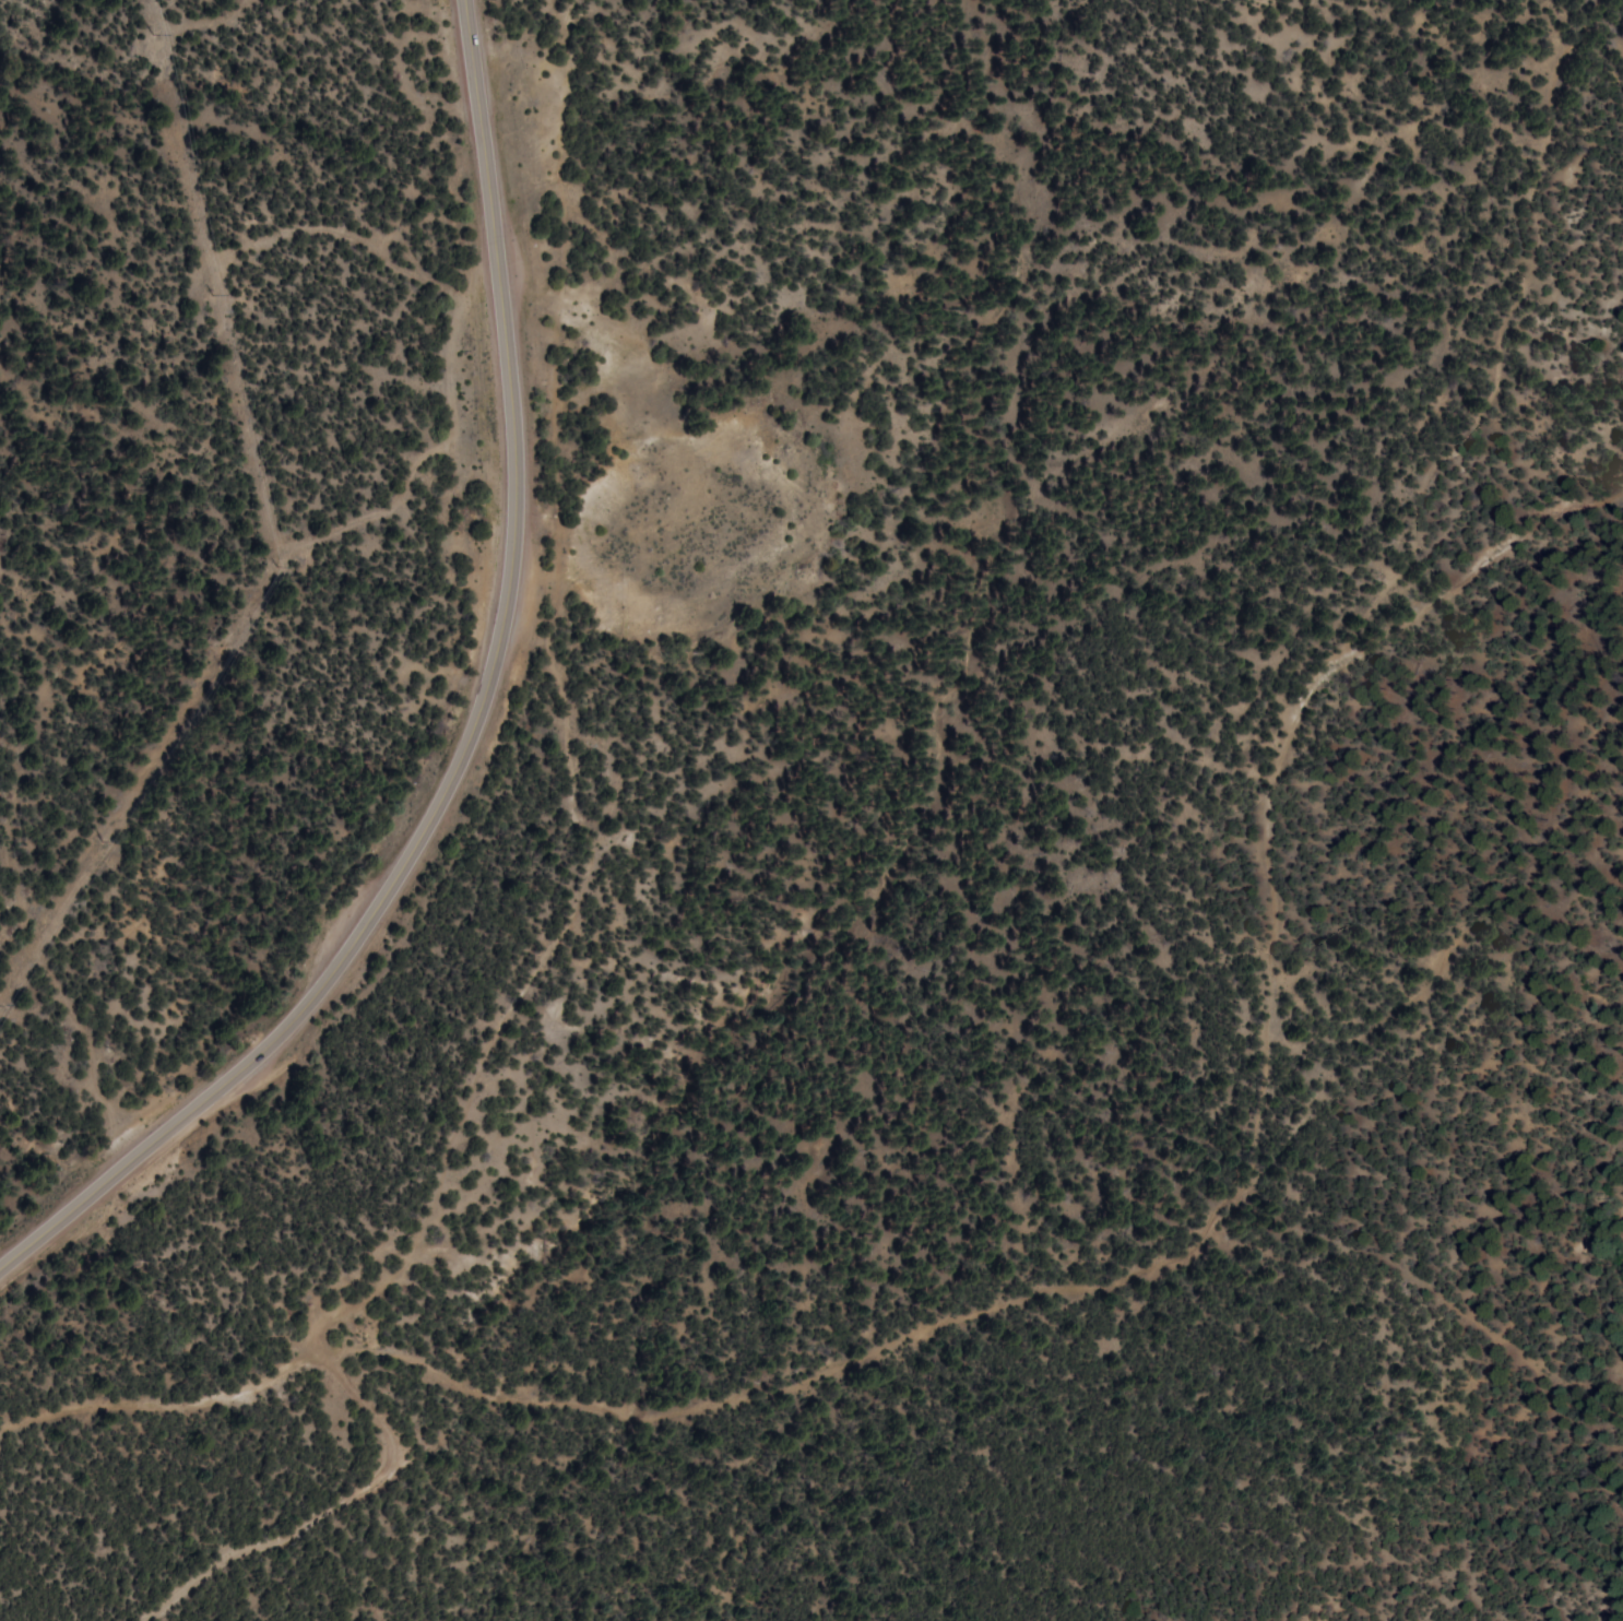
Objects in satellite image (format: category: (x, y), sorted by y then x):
quarry: (701, 521)
road: (471, 723)

